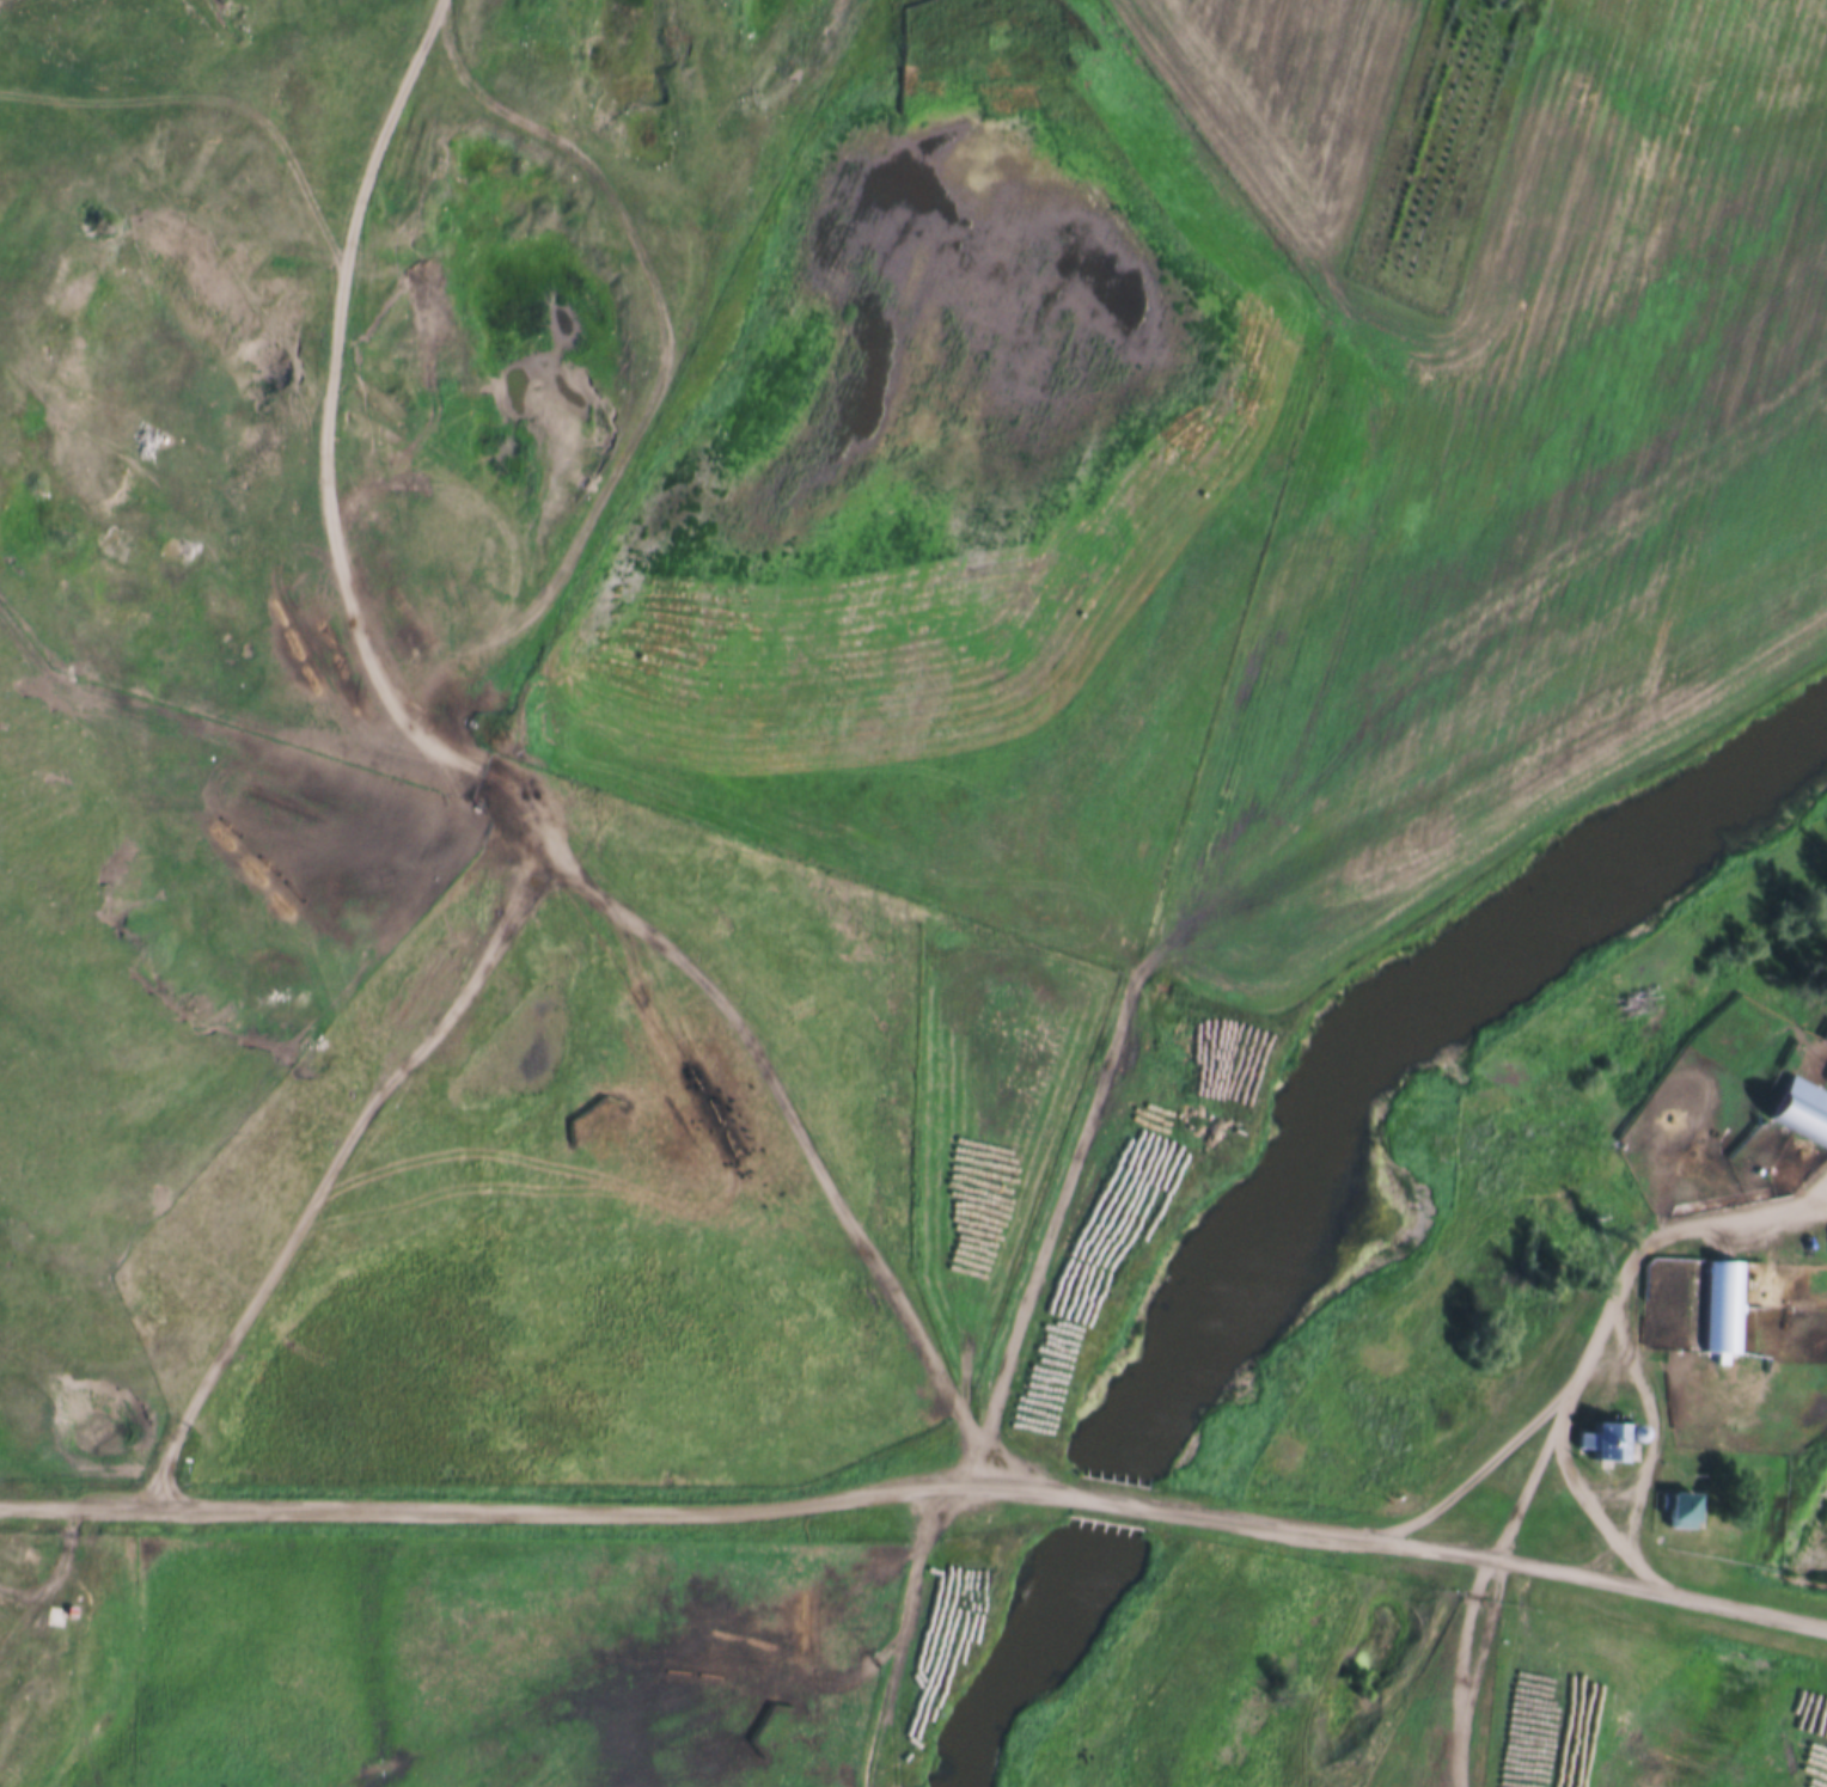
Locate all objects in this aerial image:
road: (483, 722)
road: (482, 770)
building: (1797, 1110)
river: (1302, 1176)
road: (1811, 1192)
building: (1722, 1310)
road: (1591, 1354)
building: (1600, 1445)
road: (1648, 1449)
road: (1530, 1473)
road: (919, 1474)
building: (1674, 1507)
road: (1603, 1512)
building: (55, 1616)
road: (1466, 1670)

